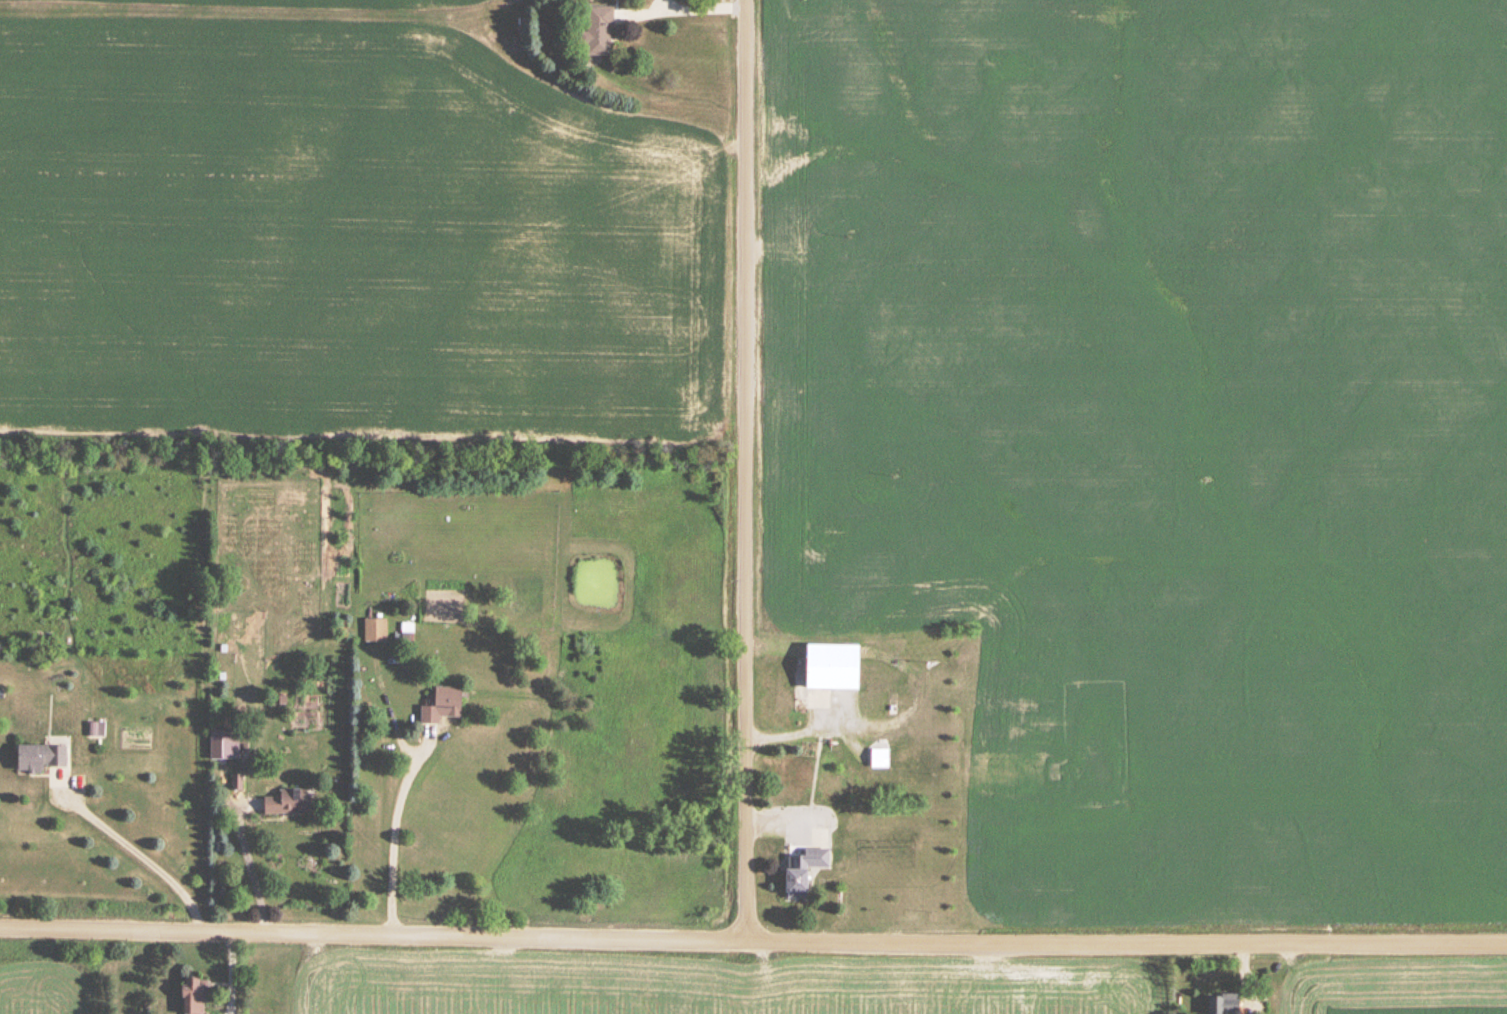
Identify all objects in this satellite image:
building: (596, 31)
road: (741, 468)
building: (375, 631)
building: (834, 668)
building: (990, 702)
building: (443, 706)
building: (224, 745)
building: (41, 758)
building: (890, 759)
building: (996, 773)
building: (288, 801)
road: (396, 839)
road: (144, 853)
road: (248, 867)
building: (804, 870)
road: (753, 936)
road: (231, 972)
building: (193, 996)
building: (1225, 1004)

